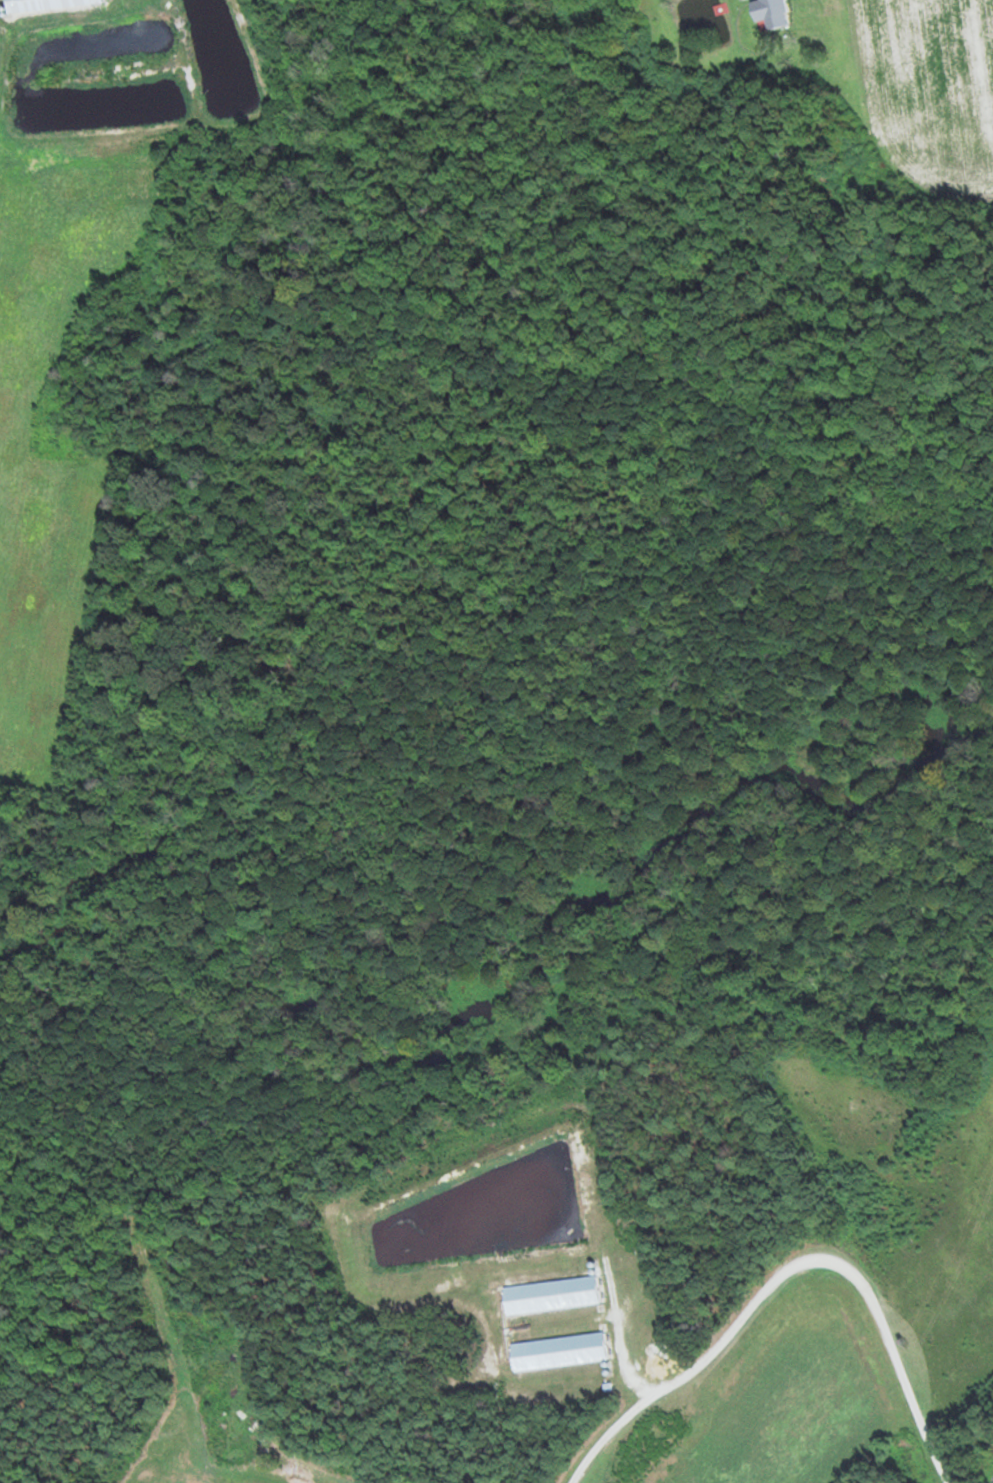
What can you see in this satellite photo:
building: (44, 5)
building: (768, 12)
building: (548, 1295)
building: (556, 1351)
road: (882, 1375)
road: (628, 1407)
building: (629, 1462)

